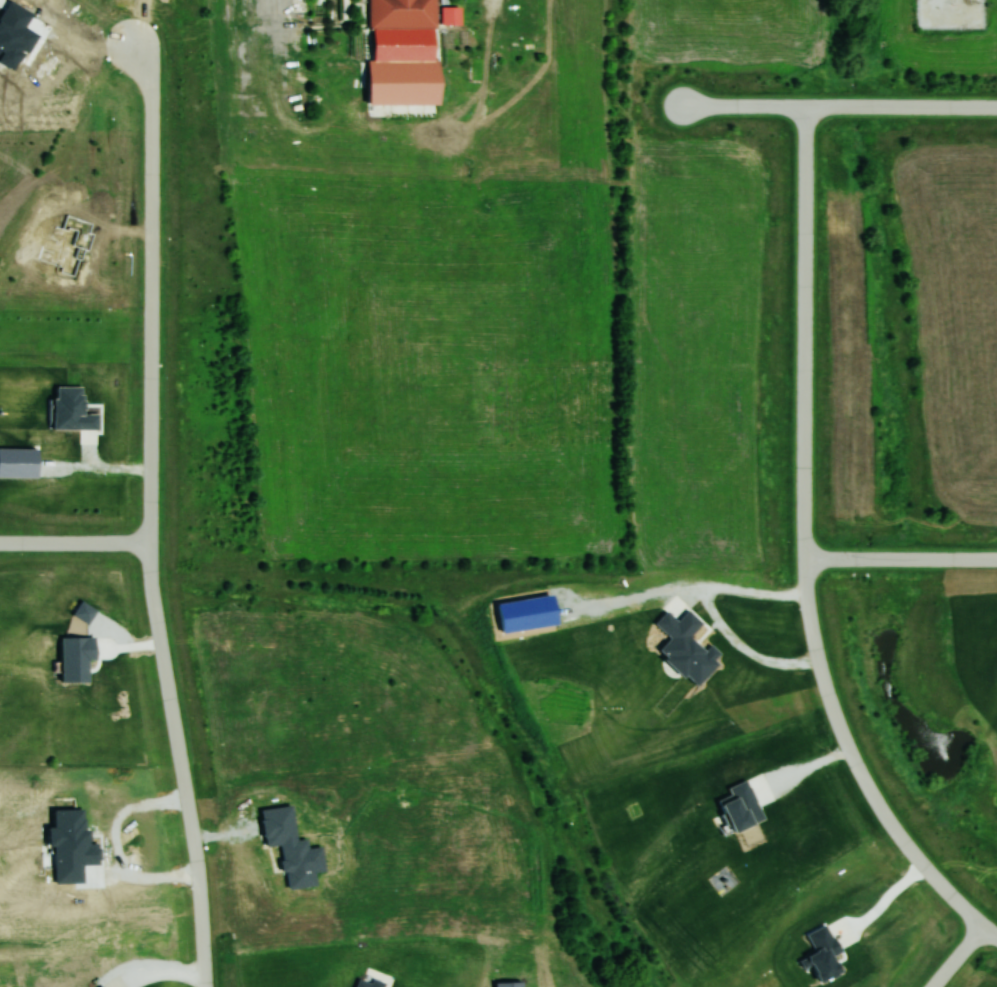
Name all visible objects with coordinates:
building: (401, 13)
building: (450, 14)
road: (262, 59)
building: (400, 83)
road: (839, 108)
road: (152, 290)
road: (75, 543)
road: (804, 543)
road: (901, 558)
road: (715, 615)
road: (181, 764)
road: (802, 771)
road: (117, 846)
road: (884, 903)
road: (991, 930)
road: (959, 956)

